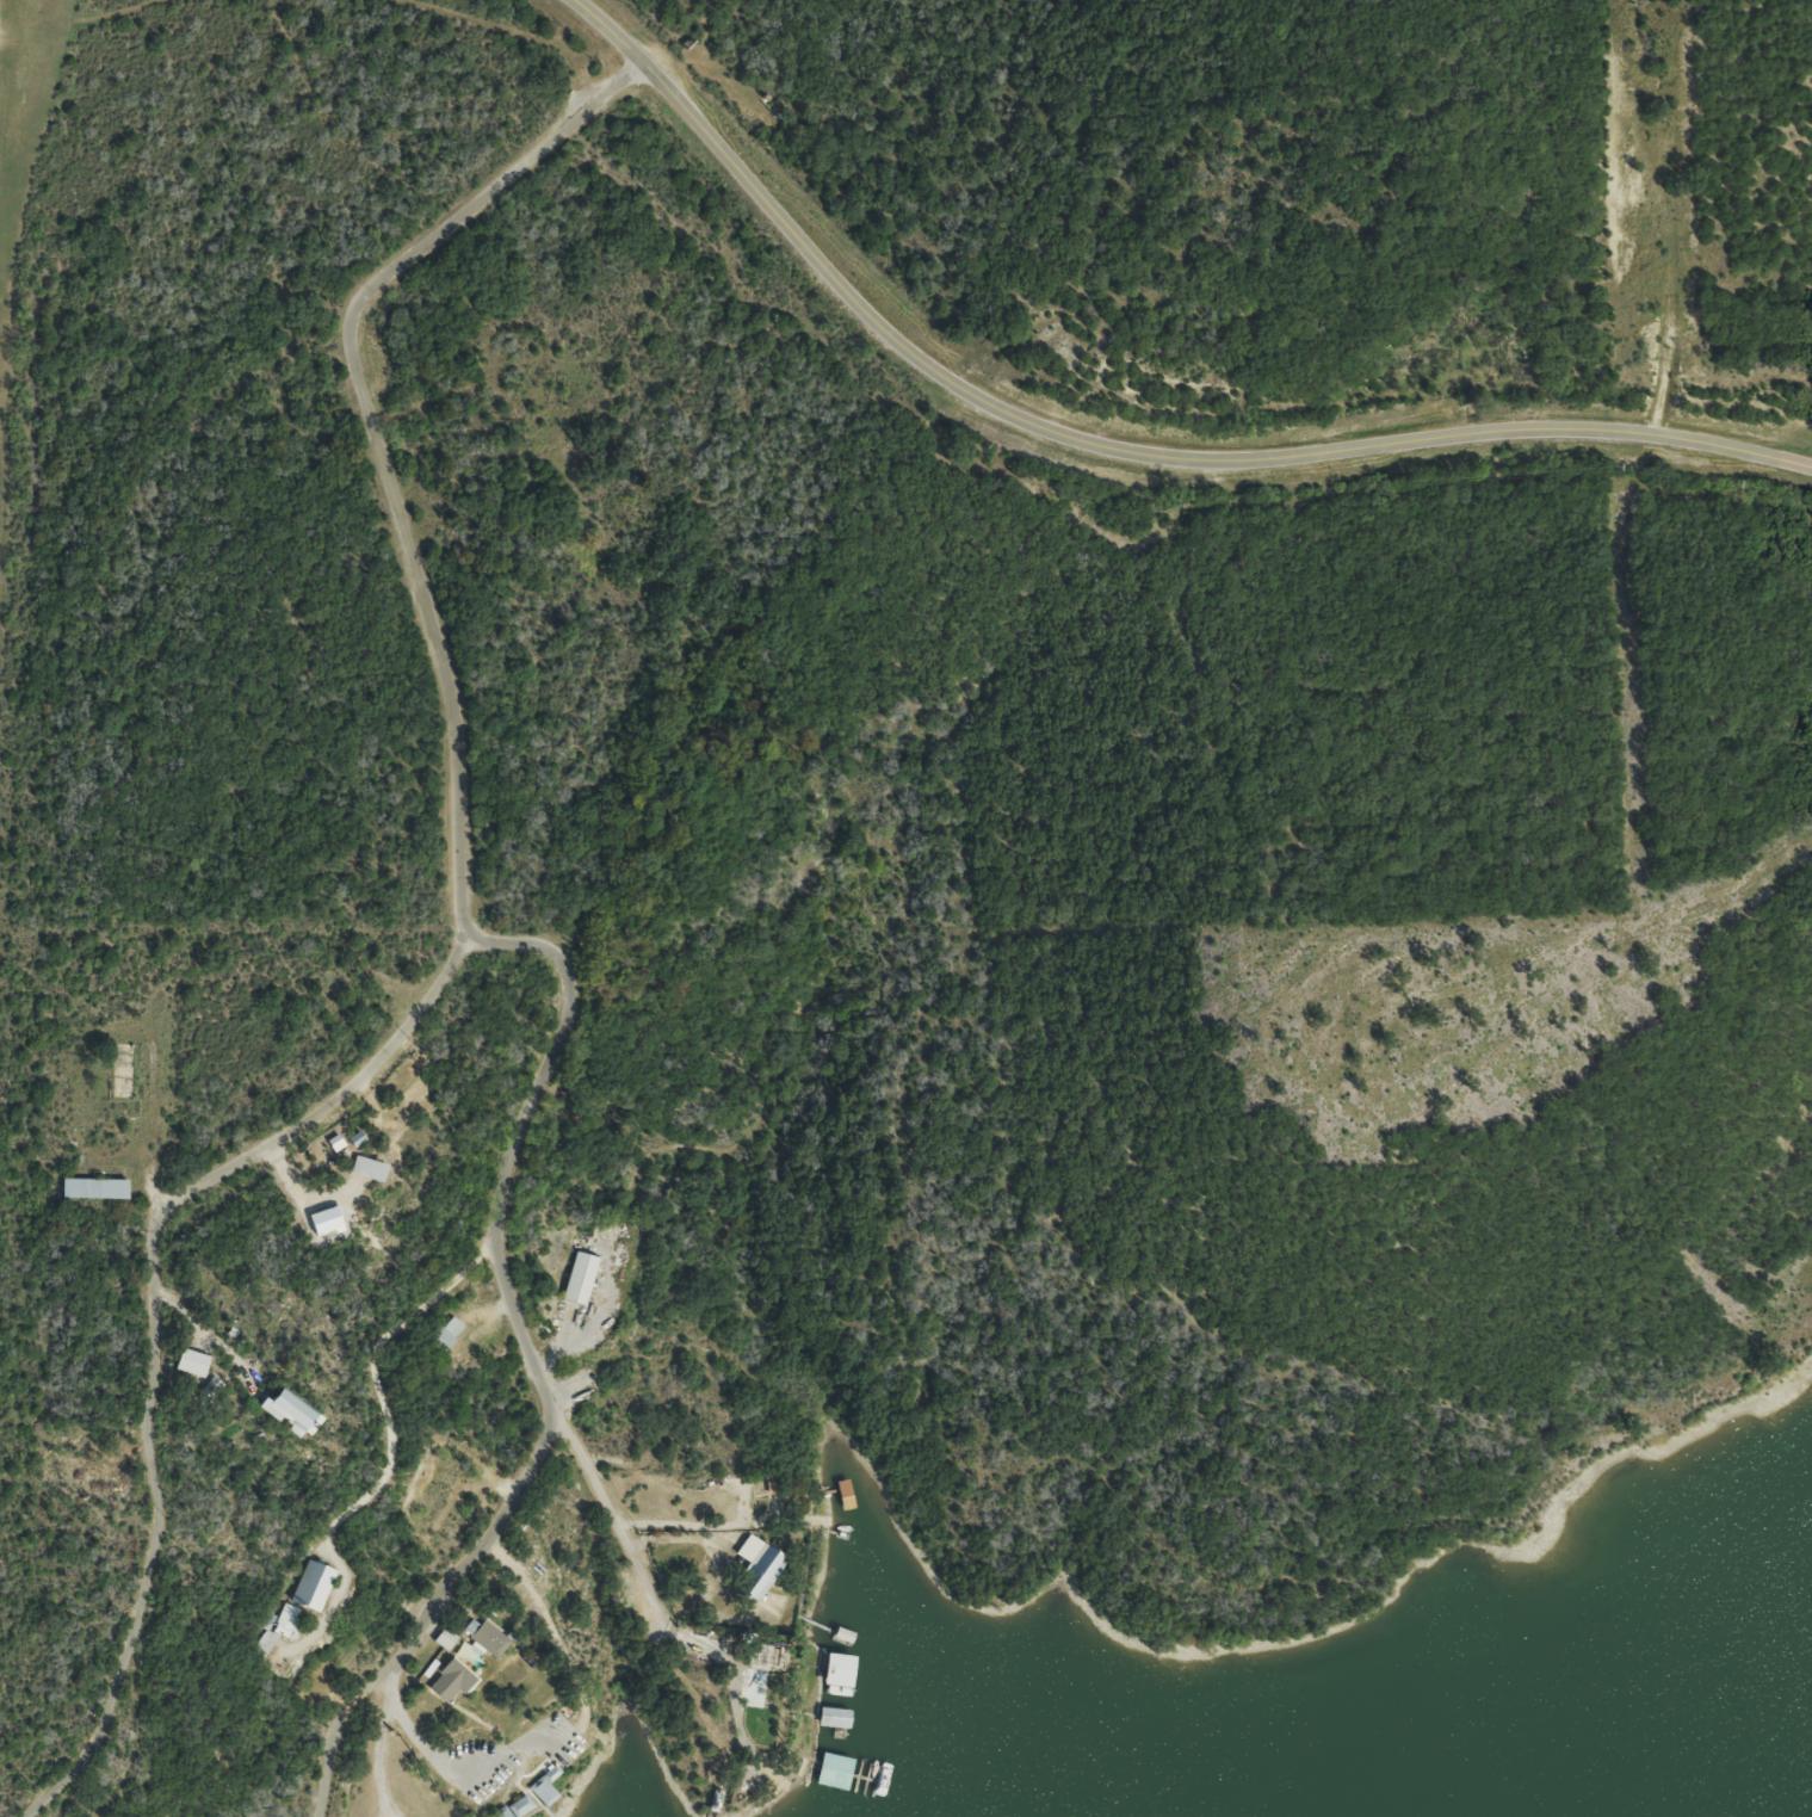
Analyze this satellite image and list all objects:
road: (531, 39)
road: (1112, 443)
road: (451, 953)
road: (147, 1112)
building: (361, 1169)
building: (91, 1188)
building: (446, 1335)
building: (187, 1364)
road: (531, 1366)
road: (377, 1378)
building: (282, 1411)
road: (617, 1525)
building: (754, 1569)
building: (307, 1587)
building: (284, 1620)
building: (484, 1639)
building: (849, 1669)
building: (447, 1683)
building: (753, 1688)
building: (849, 1725)
road: (413, 1735)
building: (542, 1793)
building: (864, 1805)
building: (512, 1809)

